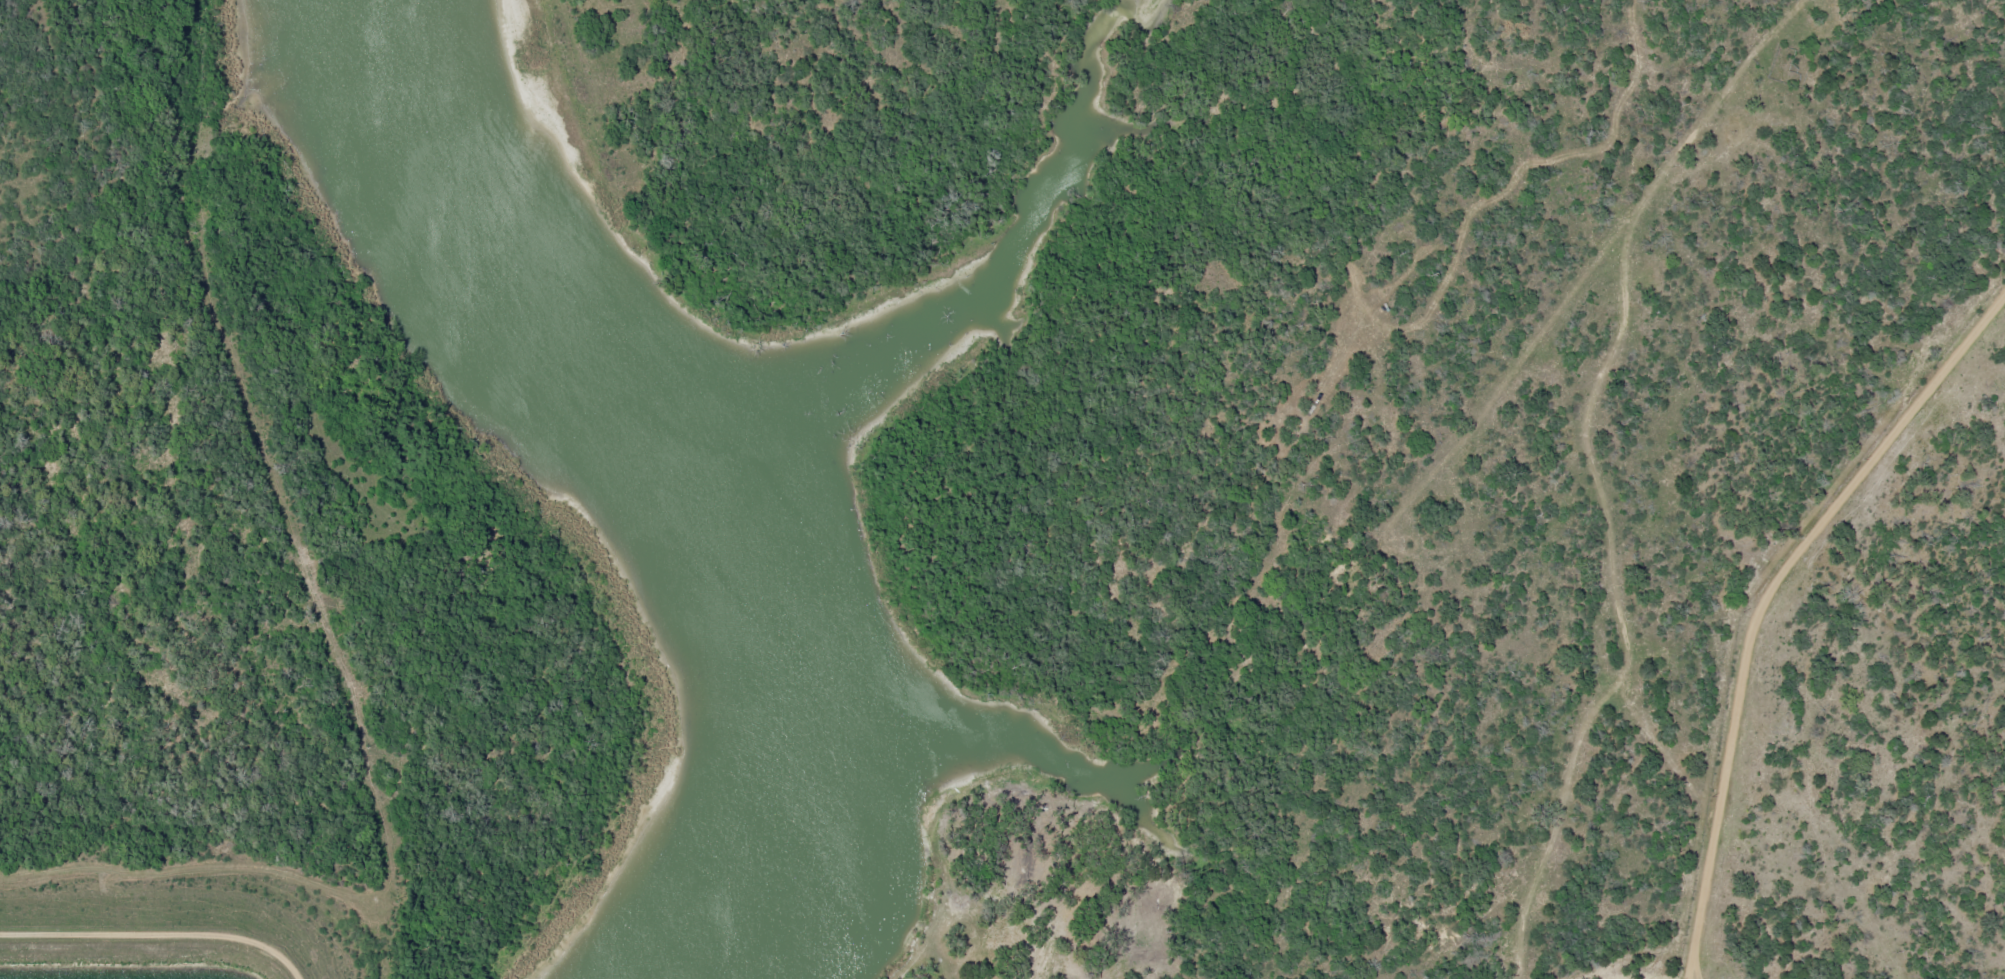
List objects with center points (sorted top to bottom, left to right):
road: (1606, 523)
power plant: (263, 565)
road: (156, 936)

